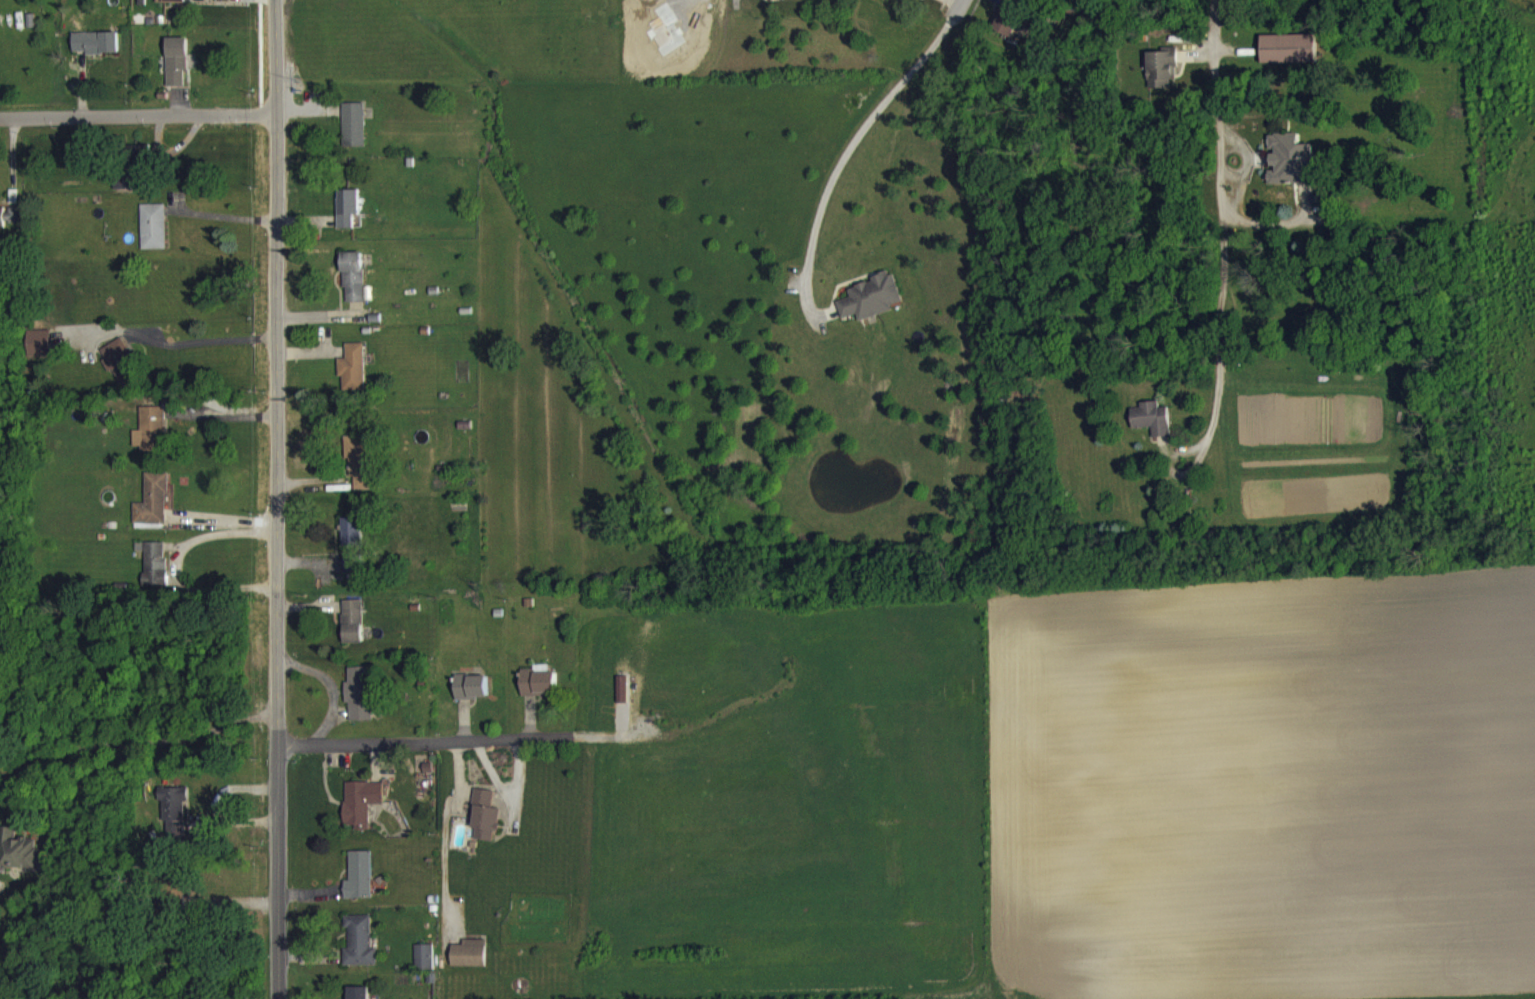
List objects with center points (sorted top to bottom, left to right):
building: (922, 1)
building: (786, 4)
road: (965, 5)
building: (170, 6)
building: (1008, 34)
building: (95, 53)
building: (1288, 59)
building: (176, 71)
building: (1161, 78)
road: (137, 115)
building: (352, 135)
road: (848, 159)
building: (1293, 171)
building: (127, 192)
building: (346, 218)
road: (1220, 221)
building: (11, 225)
building: (152, 237)
building: (353, 287)
building: (872, 308)
building: (39, 354)
road: (180, 356)
building: (119, 374)
building: (353, 378)
road: (225, 428)
building: (1151, 429)
building: (149, 440)
building: (359, 470)
road: (276, 499)
building: (152, 511)
road: (224, 518)
road: (215, 535)
building: (352, 555)
building: (154, 573)
building: (352, 632)
building: (538, 693)
building: (471, 697)
building: (359, 704)
road: (580, 734)
road: (131, 739)
road: (399, 741)
road: (520, 746)
building: (361, 812)
building: (173, 821)
building: (485, 827)
building: (16, 860)
building: (359, 886)
building: (359, 952)
building: (469, 964)
building: (423, 968)
building: (358, 998)

